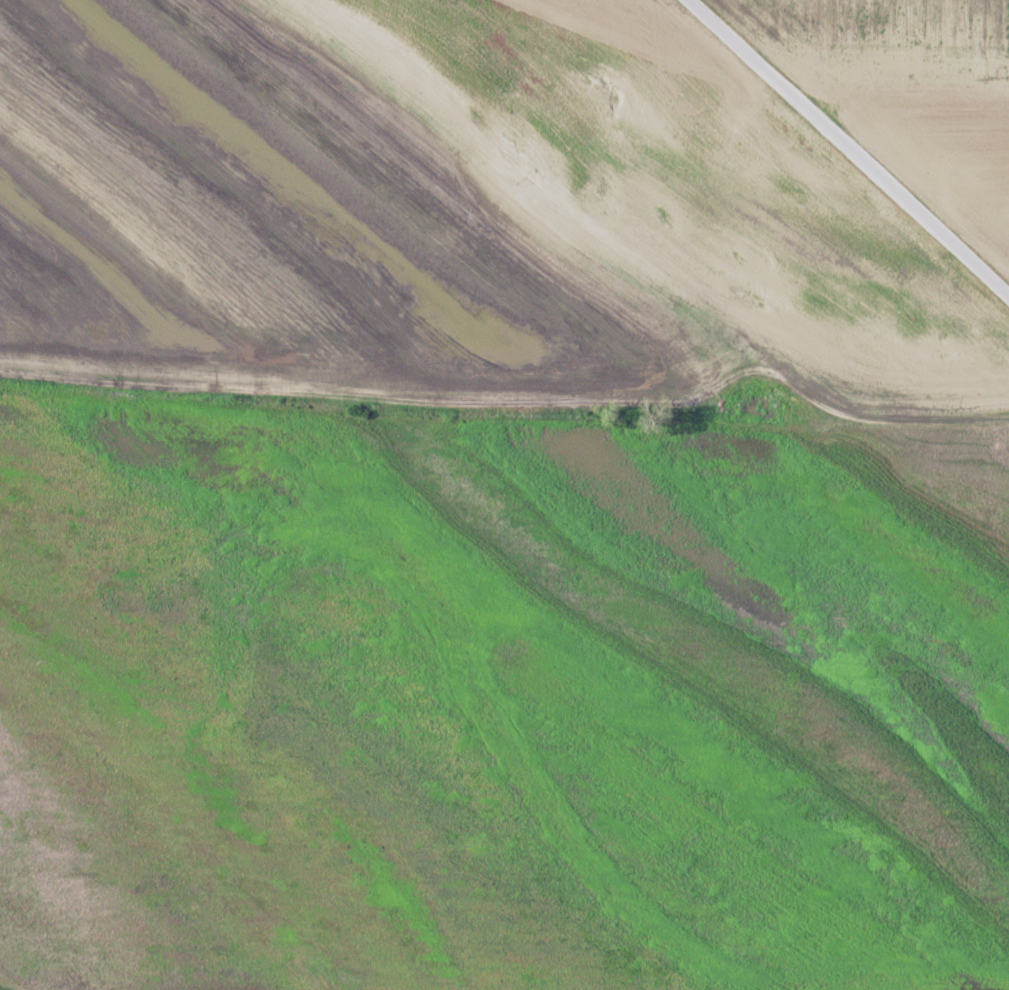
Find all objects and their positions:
road: (823, 178)

